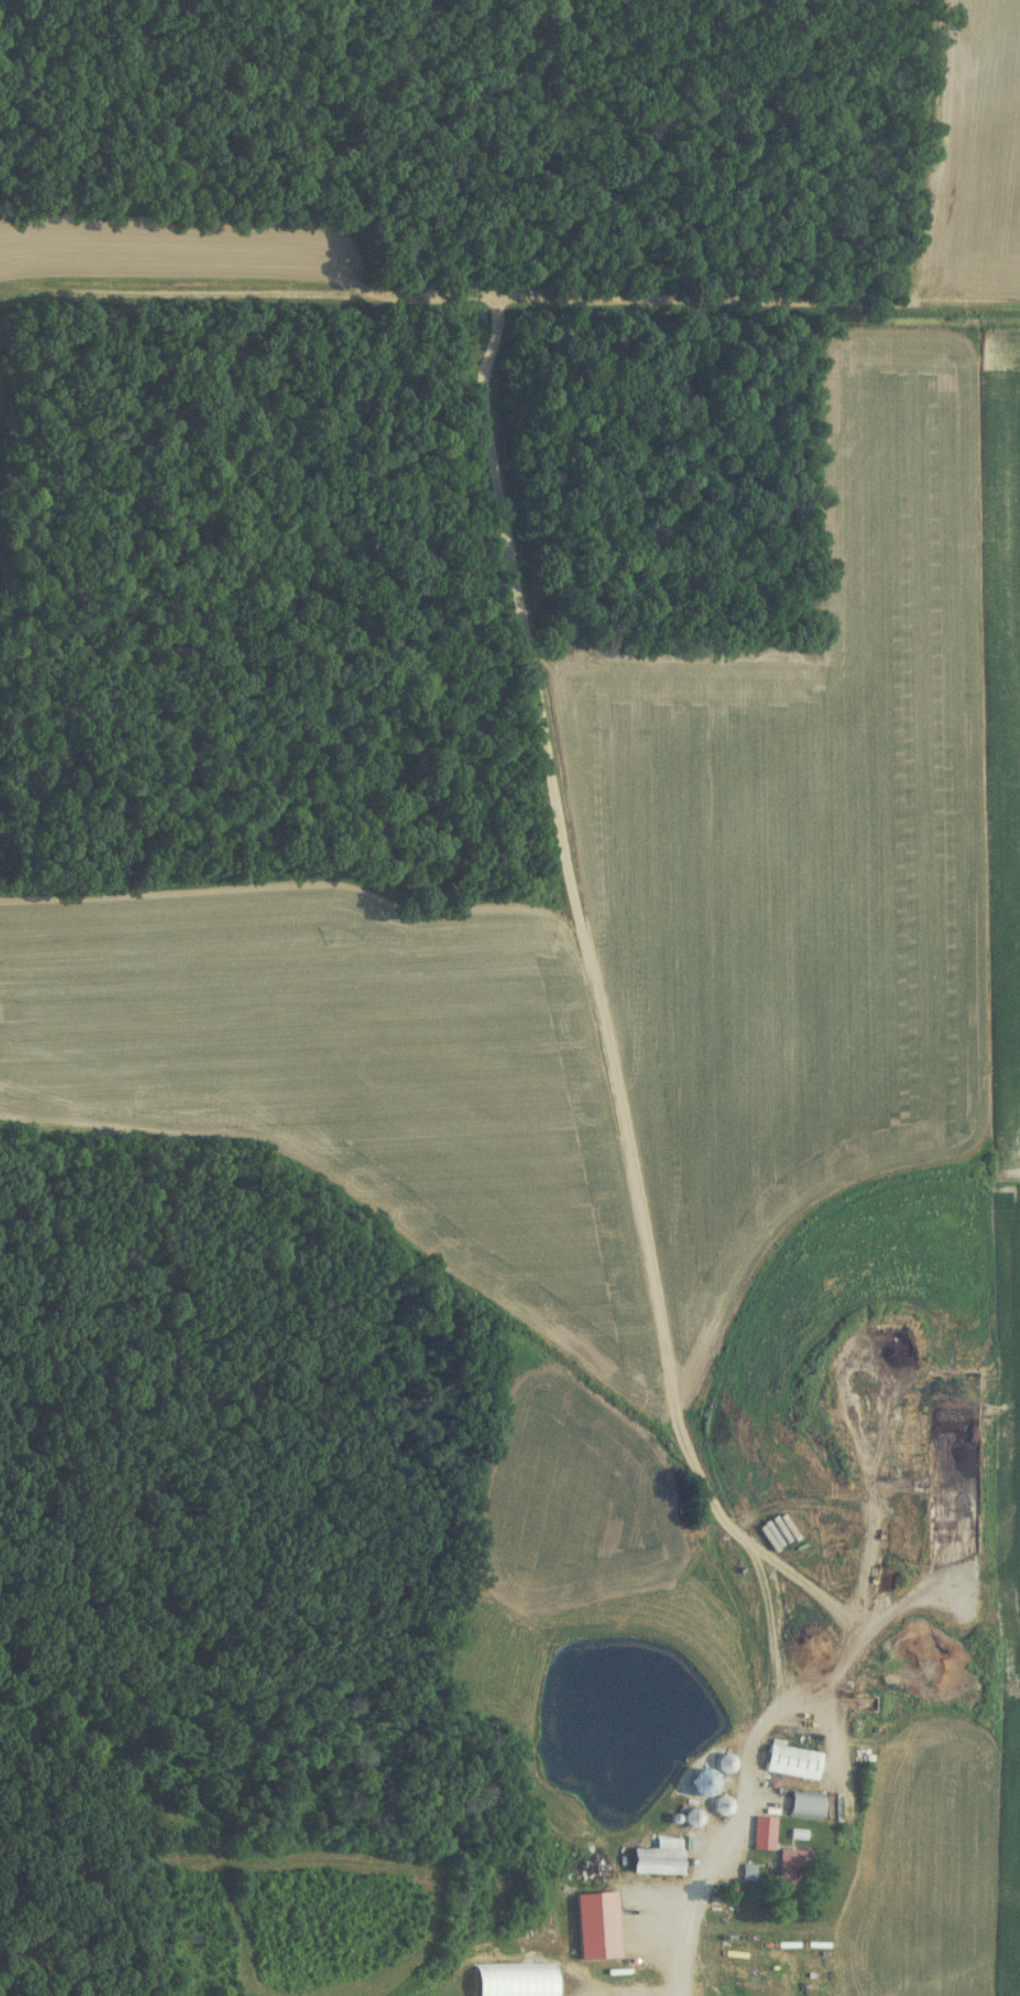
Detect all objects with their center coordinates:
building: (119, 1739)
building: (789, 1764)
building: (721, 1765)
road: (750, 1786)
building: (804, 1807)
building: (719, 1808)
building: (688, 1820)
building: (654, 1861)
building: (792, 1864)
road: (180, 1914)
building: (593, 1928)

